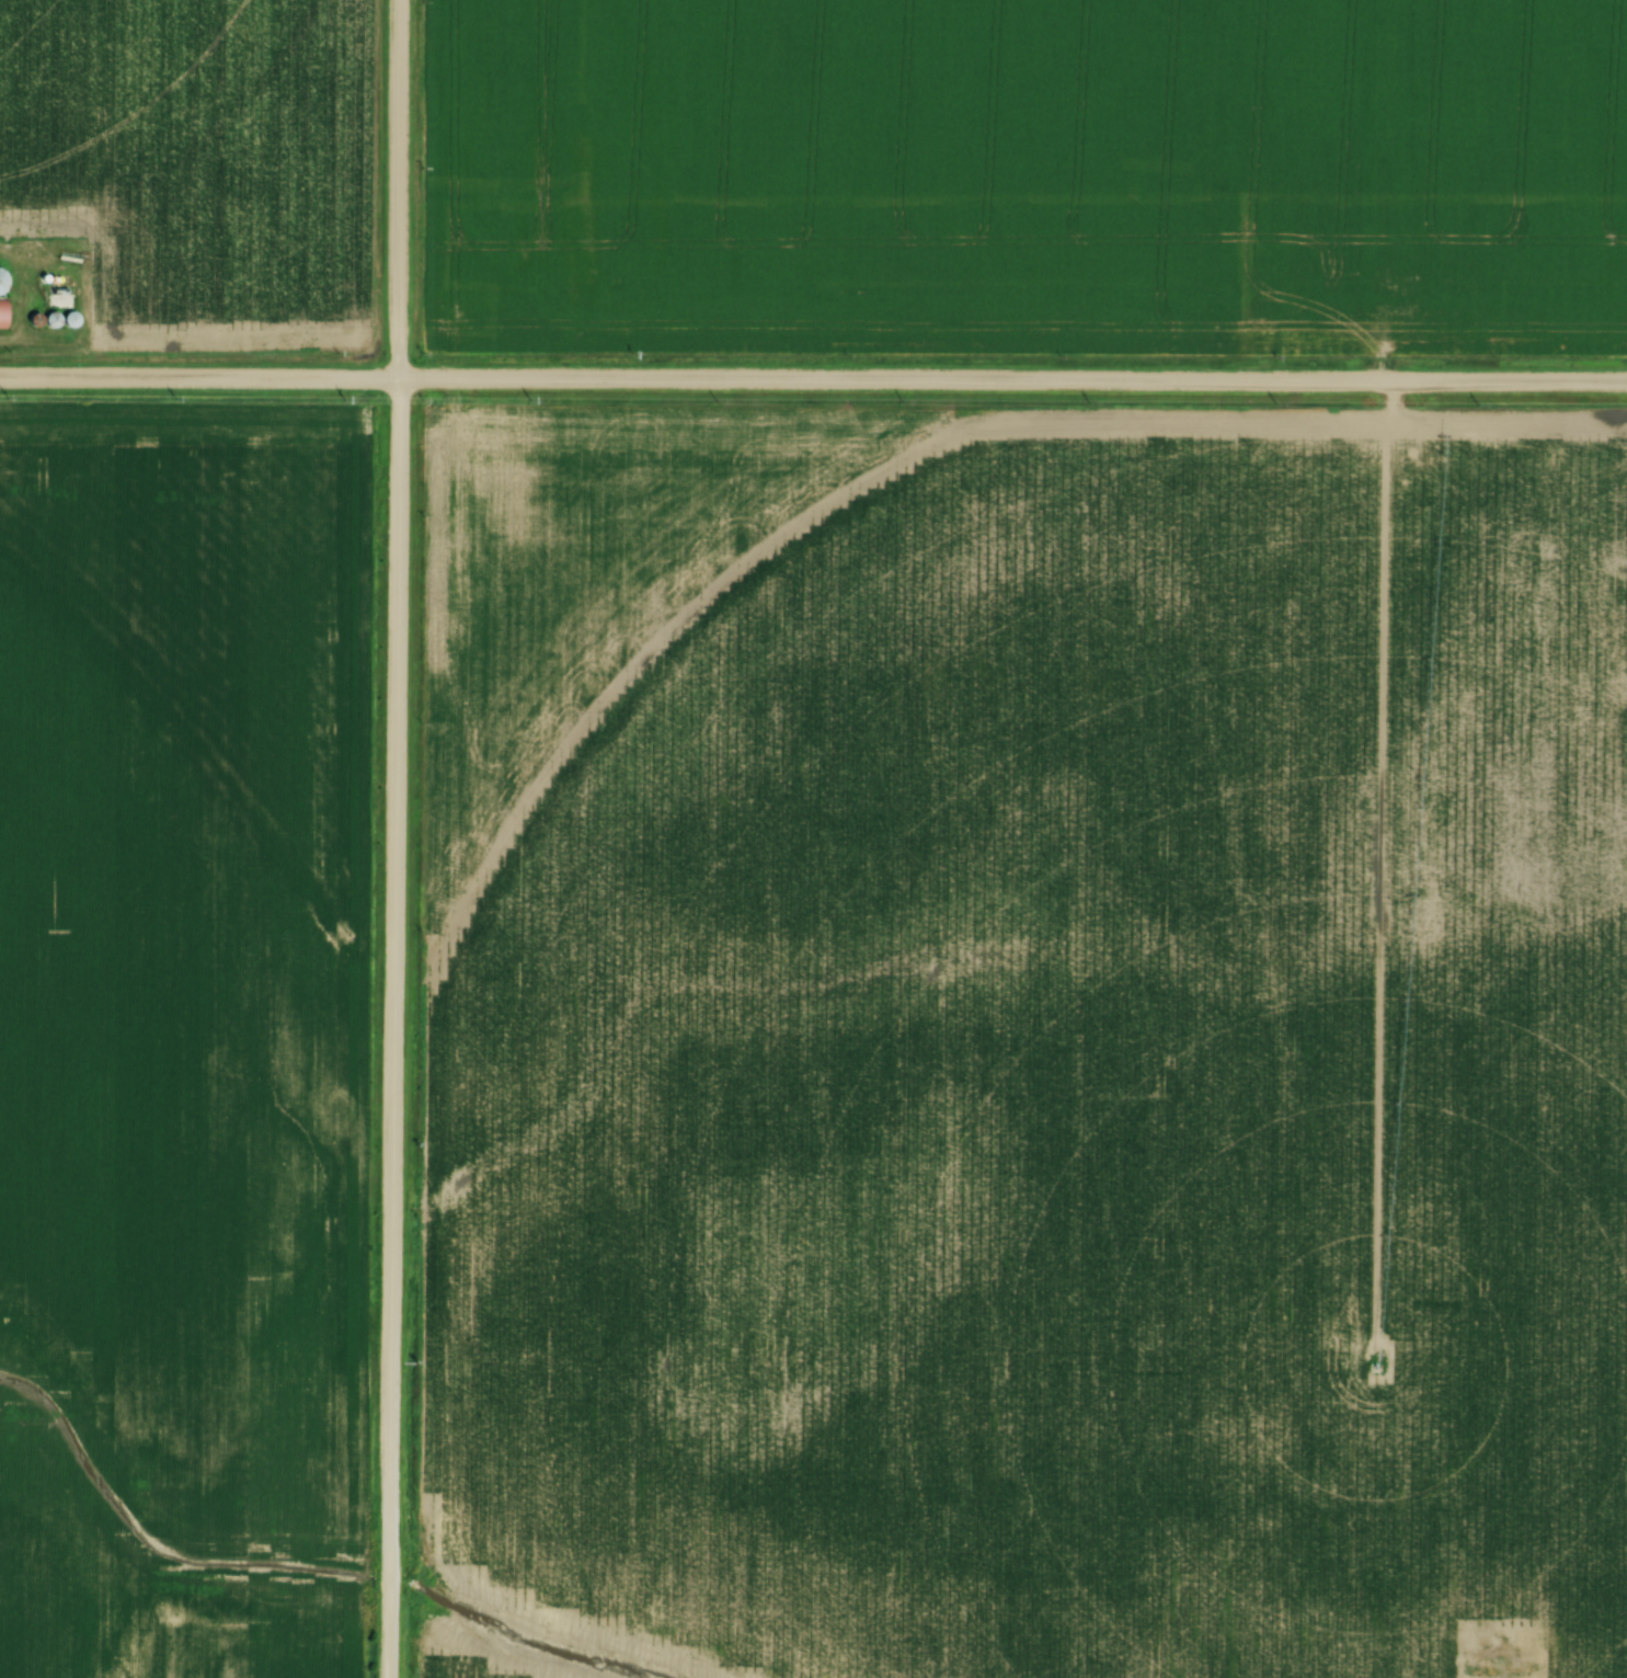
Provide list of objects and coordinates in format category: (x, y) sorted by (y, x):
road: (813, 385)
road: (396, 838)

